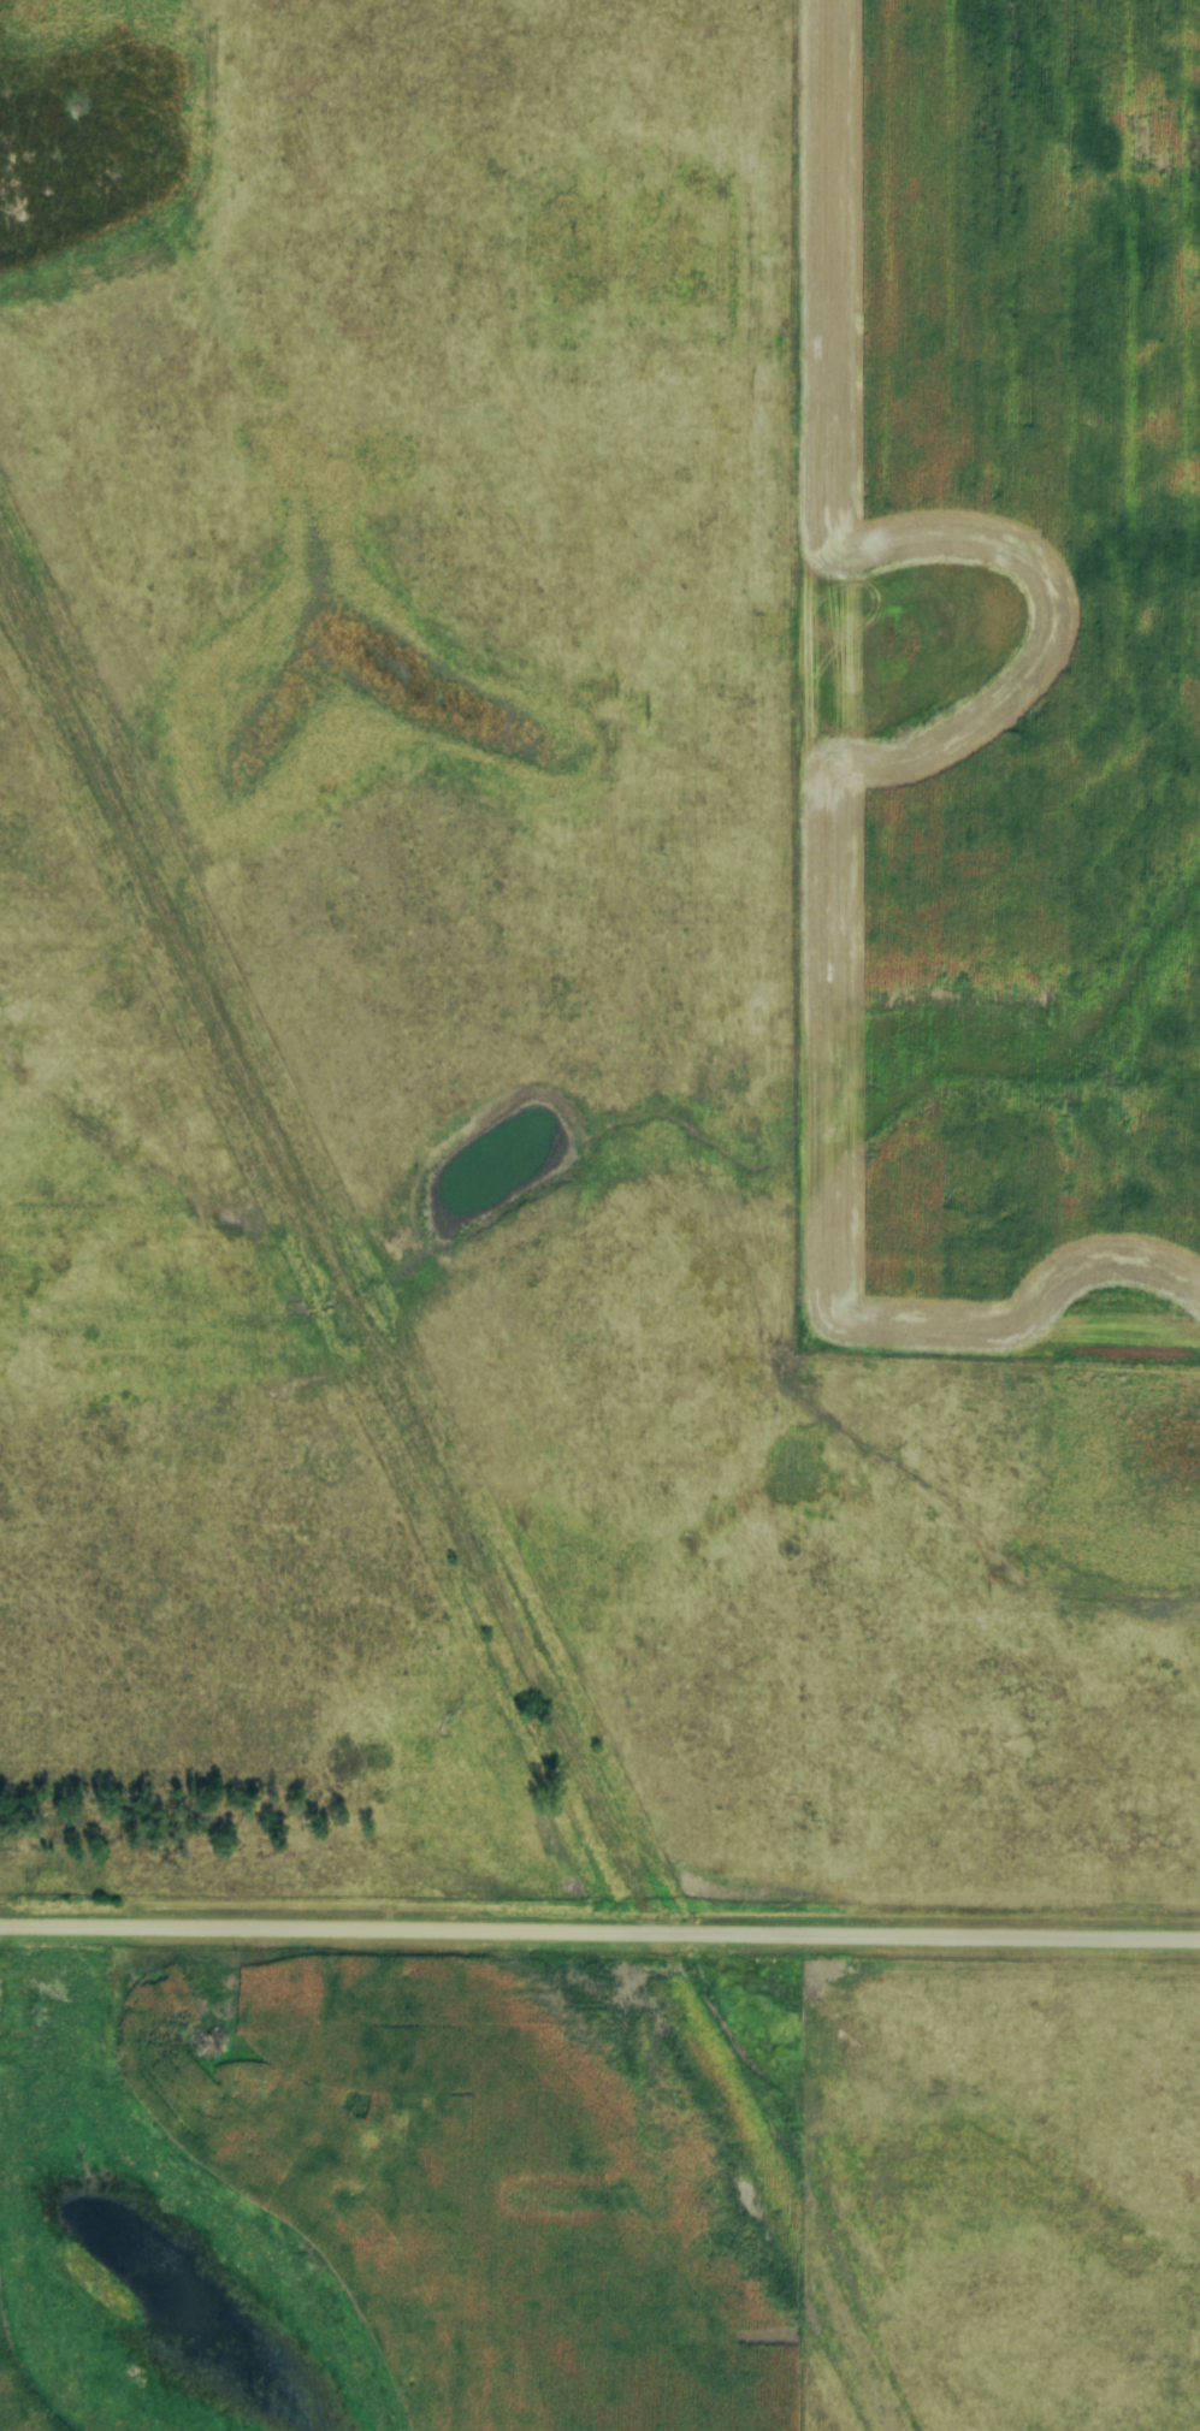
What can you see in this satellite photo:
road: (599, 1934)

